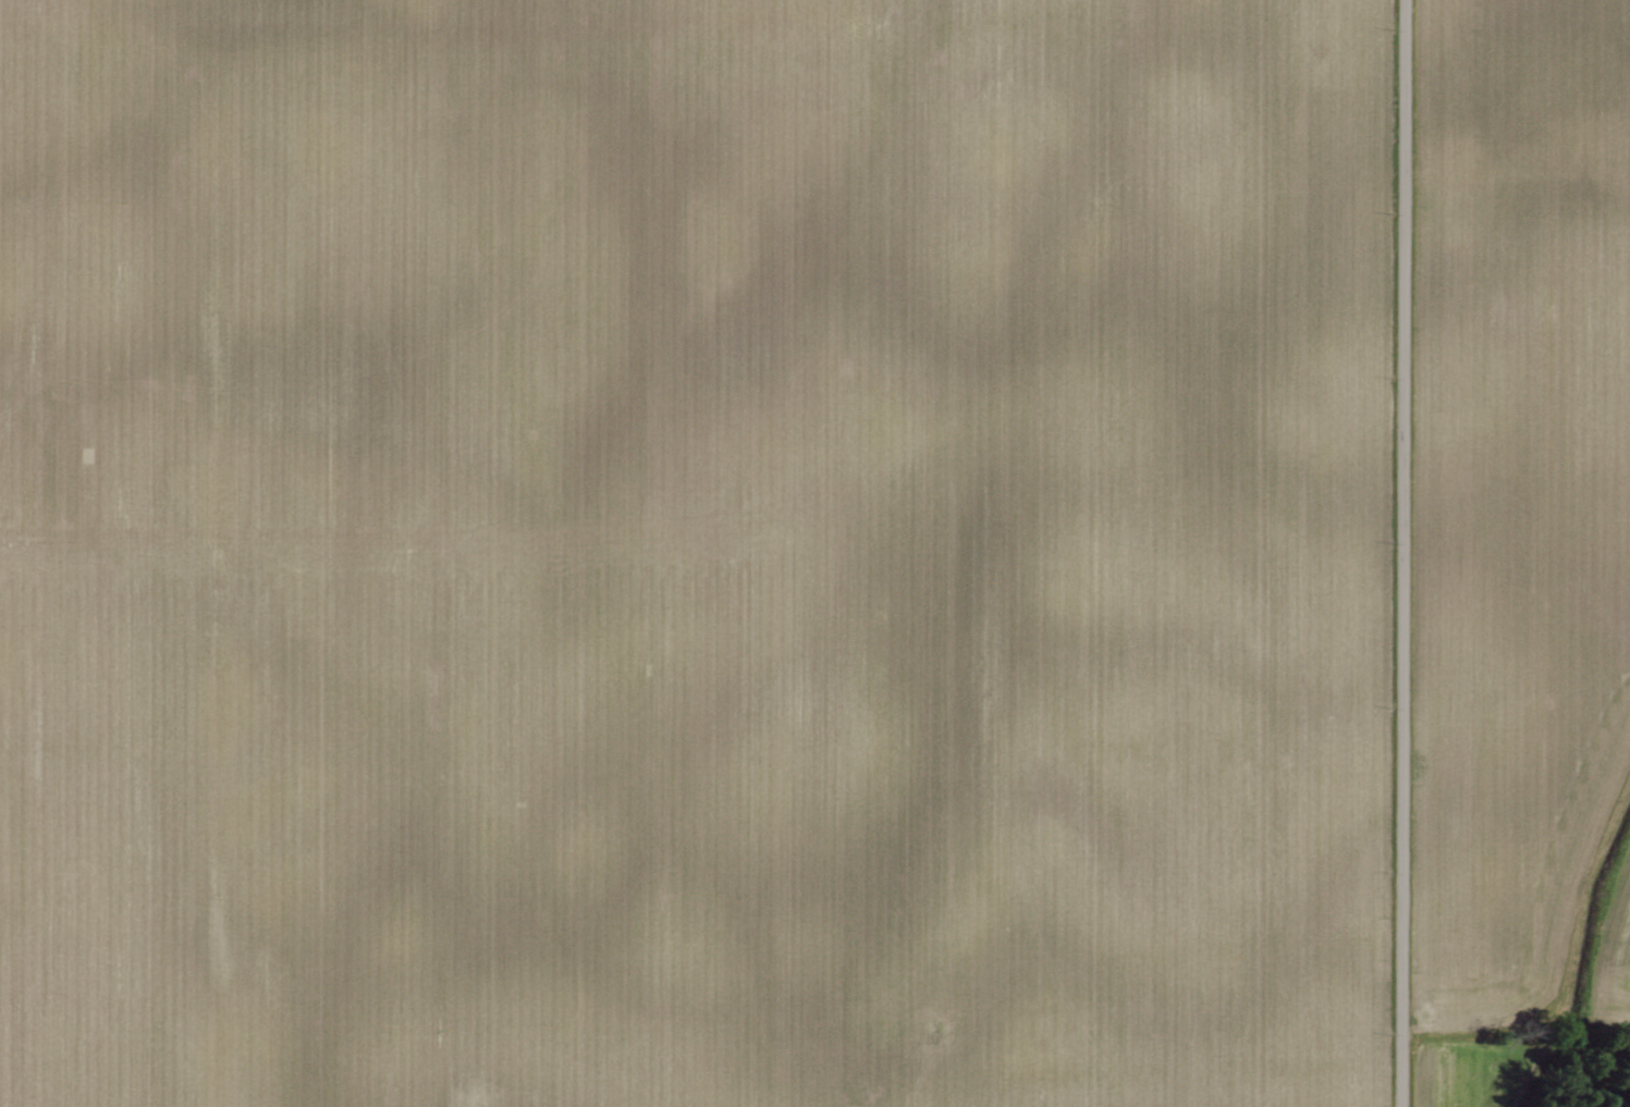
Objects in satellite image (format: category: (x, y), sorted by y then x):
road: (1402, 553)

